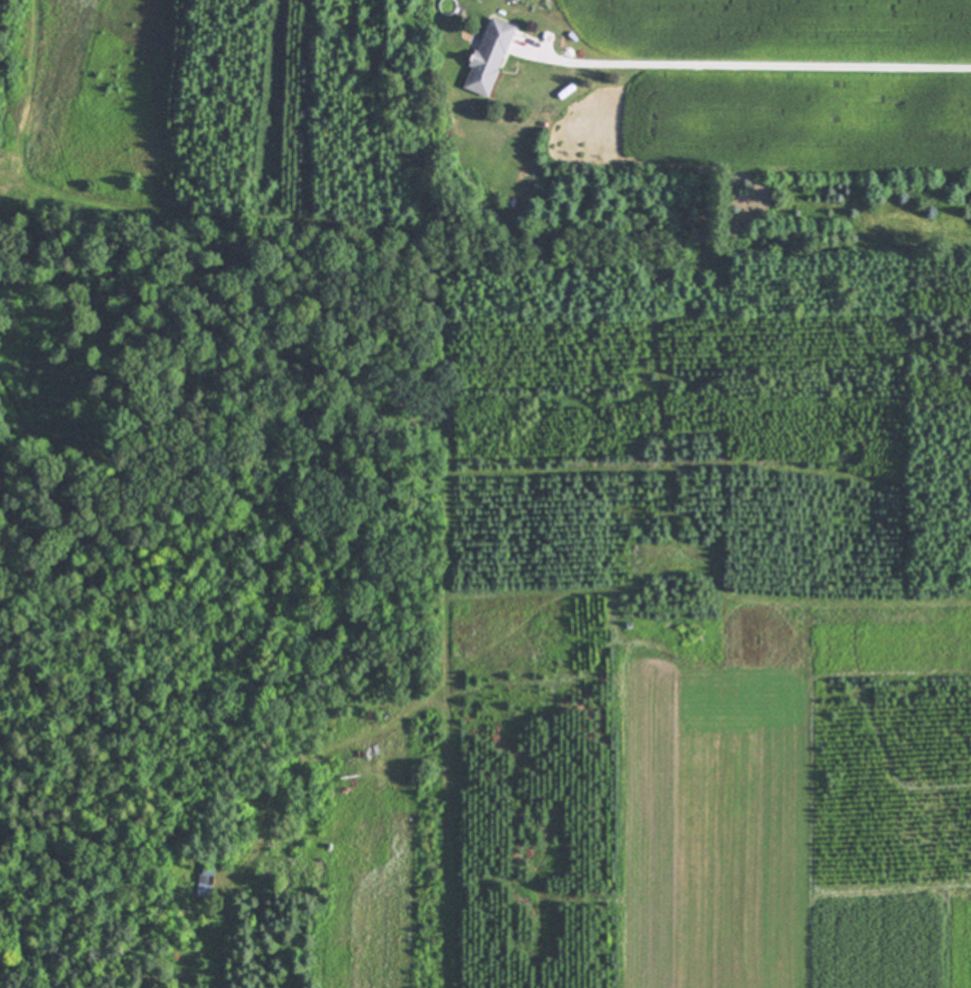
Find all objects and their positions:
building: (490, 56)
road: (768, 64)
building: (206, 879)

